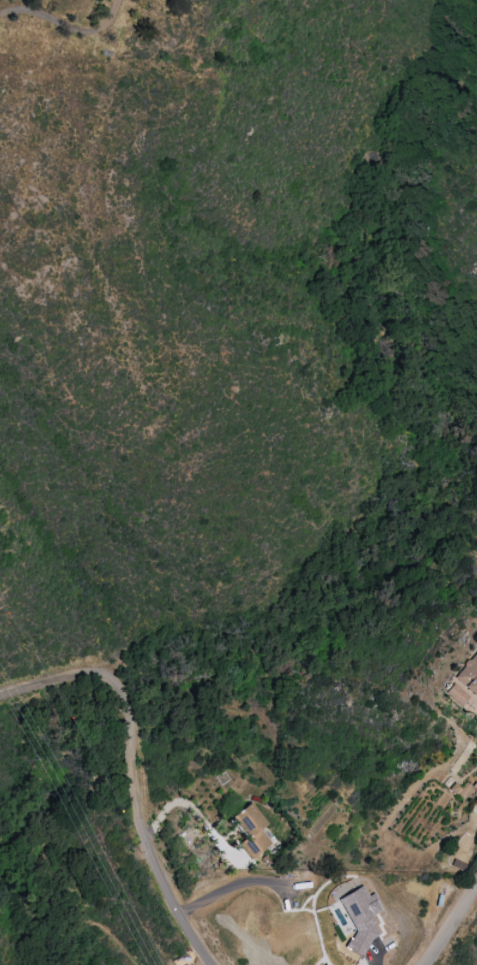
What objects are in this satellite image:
road: (65, 24)
building: (468, 675)
road: (127, 692)
building: (455, 694)
road: (198, 817)
building: (250, 831)
road: (232, 888)
road: (176, 898)
building: (360, 918)
road: (455, 926)
building: (324, 964)

